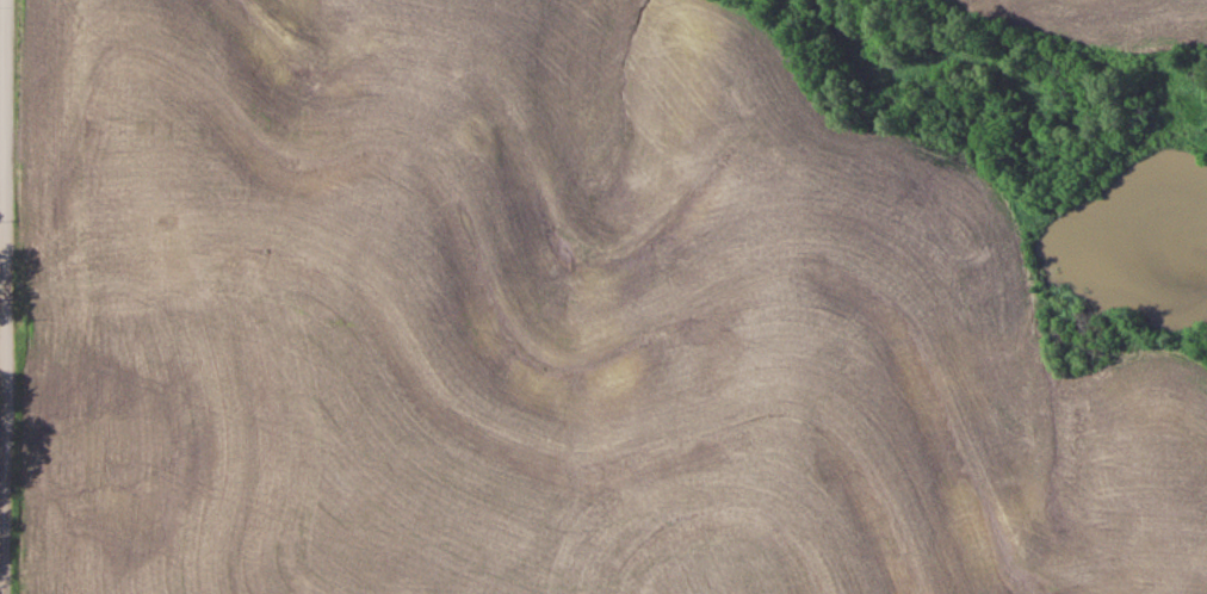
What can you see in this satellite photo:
road: (2, 193)
building: (181, 255)

